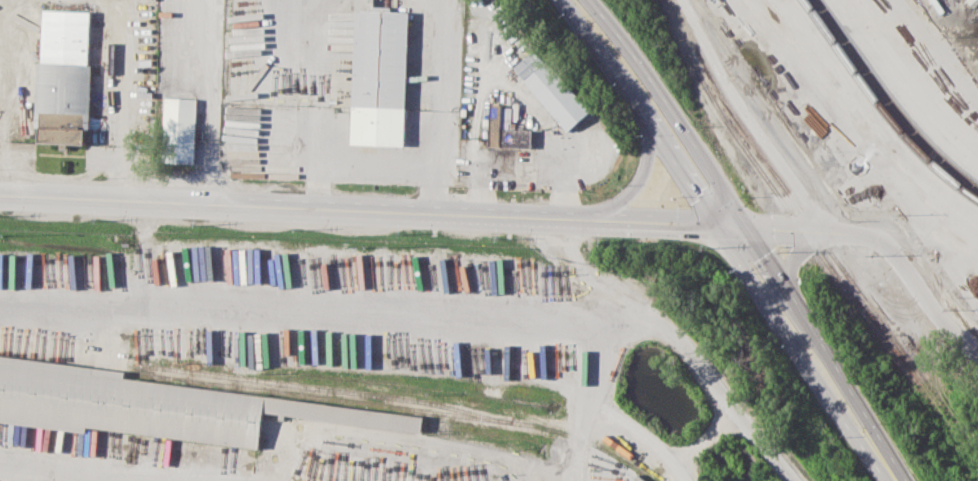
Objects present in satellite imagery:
railway: (708, 71)
building: (67, 79)
building: (379, 79)
road: (315, 81)
road: (441, 83)
building: (552, 89)
railway: (890, 100)
railway: (883, 107)
building: (505, 127)
building: (182, 130)
road: (377, 164)
road: (633, 186)
road: (281, 205)
road: (567, 217)
road: (741, 220)
road: (659, 221)
railway: (798, 222)
traffic signals: (715, 224)
traffic signals: (746, 226)
road: (717, 227)
road: (885, 243)
road: (798, 252)
railway: (853, 283)
road: (305, 304)
road: (681, 340)
road: (586, 380)
railway: (324, 388)
building: (157, 406)
railway: (398, 407)
road: (640, 432)
road: (704, 437)
railway: (967, 441)
railway: (963, 453)
road: (886, 465)
road: (74, 471)
road: (86, 477)

